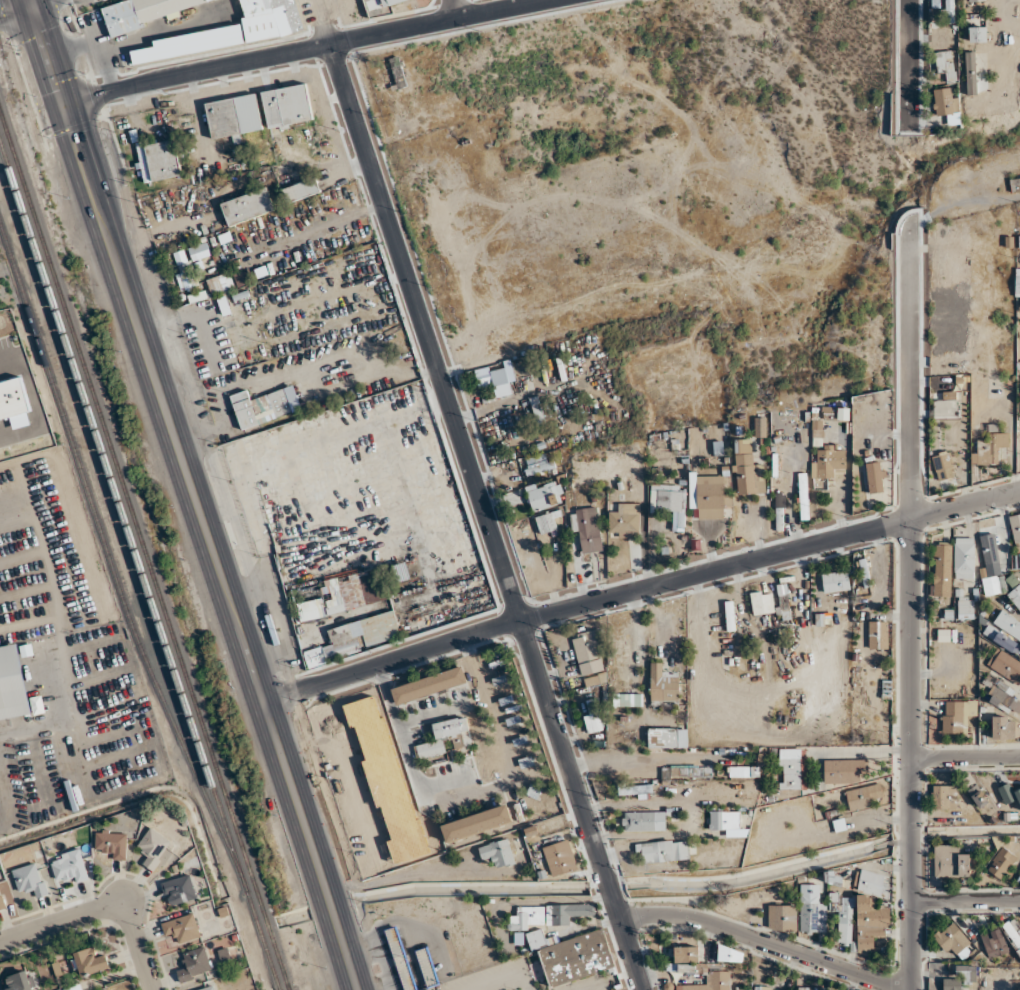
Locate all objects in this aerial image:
building: (977, 0)
building: (390, 2)
road: (30, 7)
road: (455, 8)
building: (145, 10)
building: (949, 11)
building: (935, 13)
road: (16, 17)
building: (270, 18)
building: (977, 33)
road: (302, 51)
road: (902, 64)
building: (946, 64)
building: (396, 72)
building: (970, 72)
building: (947, 104)
building: (287, 106)
building: (234, 116)
building: (158, 160)
building: (1015, 184)
building: (301, 190)
building: (248, 206)
building: (199, 251)
building: (183, 269)
building: (1017, 282)
building: (220, 283)
building: (495, 374)
building: (281, 400)
building: (244, 409)
building: (537, 410)
building: (760, 426)
building: (989, 448)
building: (826, 455)
building: (538, 464)
building: (943, 466)
building: (749, 475)
building: (876, 477)
building: (545, 494)
building: (712, 496)
building: (803, 496)
road: (197, 501)
building: (671, 502)
building: (779, 511)
road: (486, 517)
building: (626, 520)
building: (549, 524)
building: (1015, 527)
building: (587, 530)
building: (989, 547)
railway: (143, 553)
building: (964, 557)
railway: (109, 561)
railway: (138, 568)
building: (942, 569)
building: (401, 571)
building: (835, 581)
building: (991, 585)
road: (639, 590)
building: (347, 594)
building: (1015, 595)
building: (783, 601)
building: (762, 602)
building: (965, 608)
road: (907, 609)
building: (730, 615)
building: (1008, 624)
building: (878, 635)
building: (354, 638)
building: (1001, 639)
building: (623, 649)
building: (590, 657)
building: (1005, 665)
building: (12, 686)
building: (664, 687)
building: (1005, 697)
building: (627, 699)
building: (957, 715)
building: (593, 716)
building: (1003, 727)
building: (363, 729)
building: (667, 737)
building: (446, 738)
road: (638, 754)
road: (964, 756)
building: (789, 769)
building: (845, 770)
building: (686, 771)
building: (744, 771)
building: (635, 789)
building: (532, 794)
building: (1018, 794)
building: (862, 796)
building: (944, 796)
building: (979, 798)
building: (644, 821)
building: (476, 822)
building: (727, 823)
building: (112, 844)
building: (404, 845)
building: (153, 846)
building: (664, 850)
building: (497, 853)
building: (560, 857)
building: (950, 862)
building: (1001, 862)
building: (70, 866)
road: (123, 872)
building: (833, 877)
building: (1019, 878)
building: (30, 879)
building: (179, 890)
road: (965, 901)
building: (1, 902)
road: (105, 906)
building: (811, 909)
building: (871, 911)
building: (566, 912)
building: (843, 915)
building: (528, 918)
building: (781, 918)
building: (182, 928)
building: (1013, 933)
building: (954, 939)
road: (765, 943)
building: (994, 943)
building: (686, 954)
building: (734, 954)
building: (574, 956)
building: (400, 958)
building: (89, 962)
building: (194, 964)
building: (426, 967)
building: (960, 978)
building: (20, 981)
building: (711, 982)
road: (577, 983)
building: (208, 988)
building: (766, 988)
building: (810, 988)

